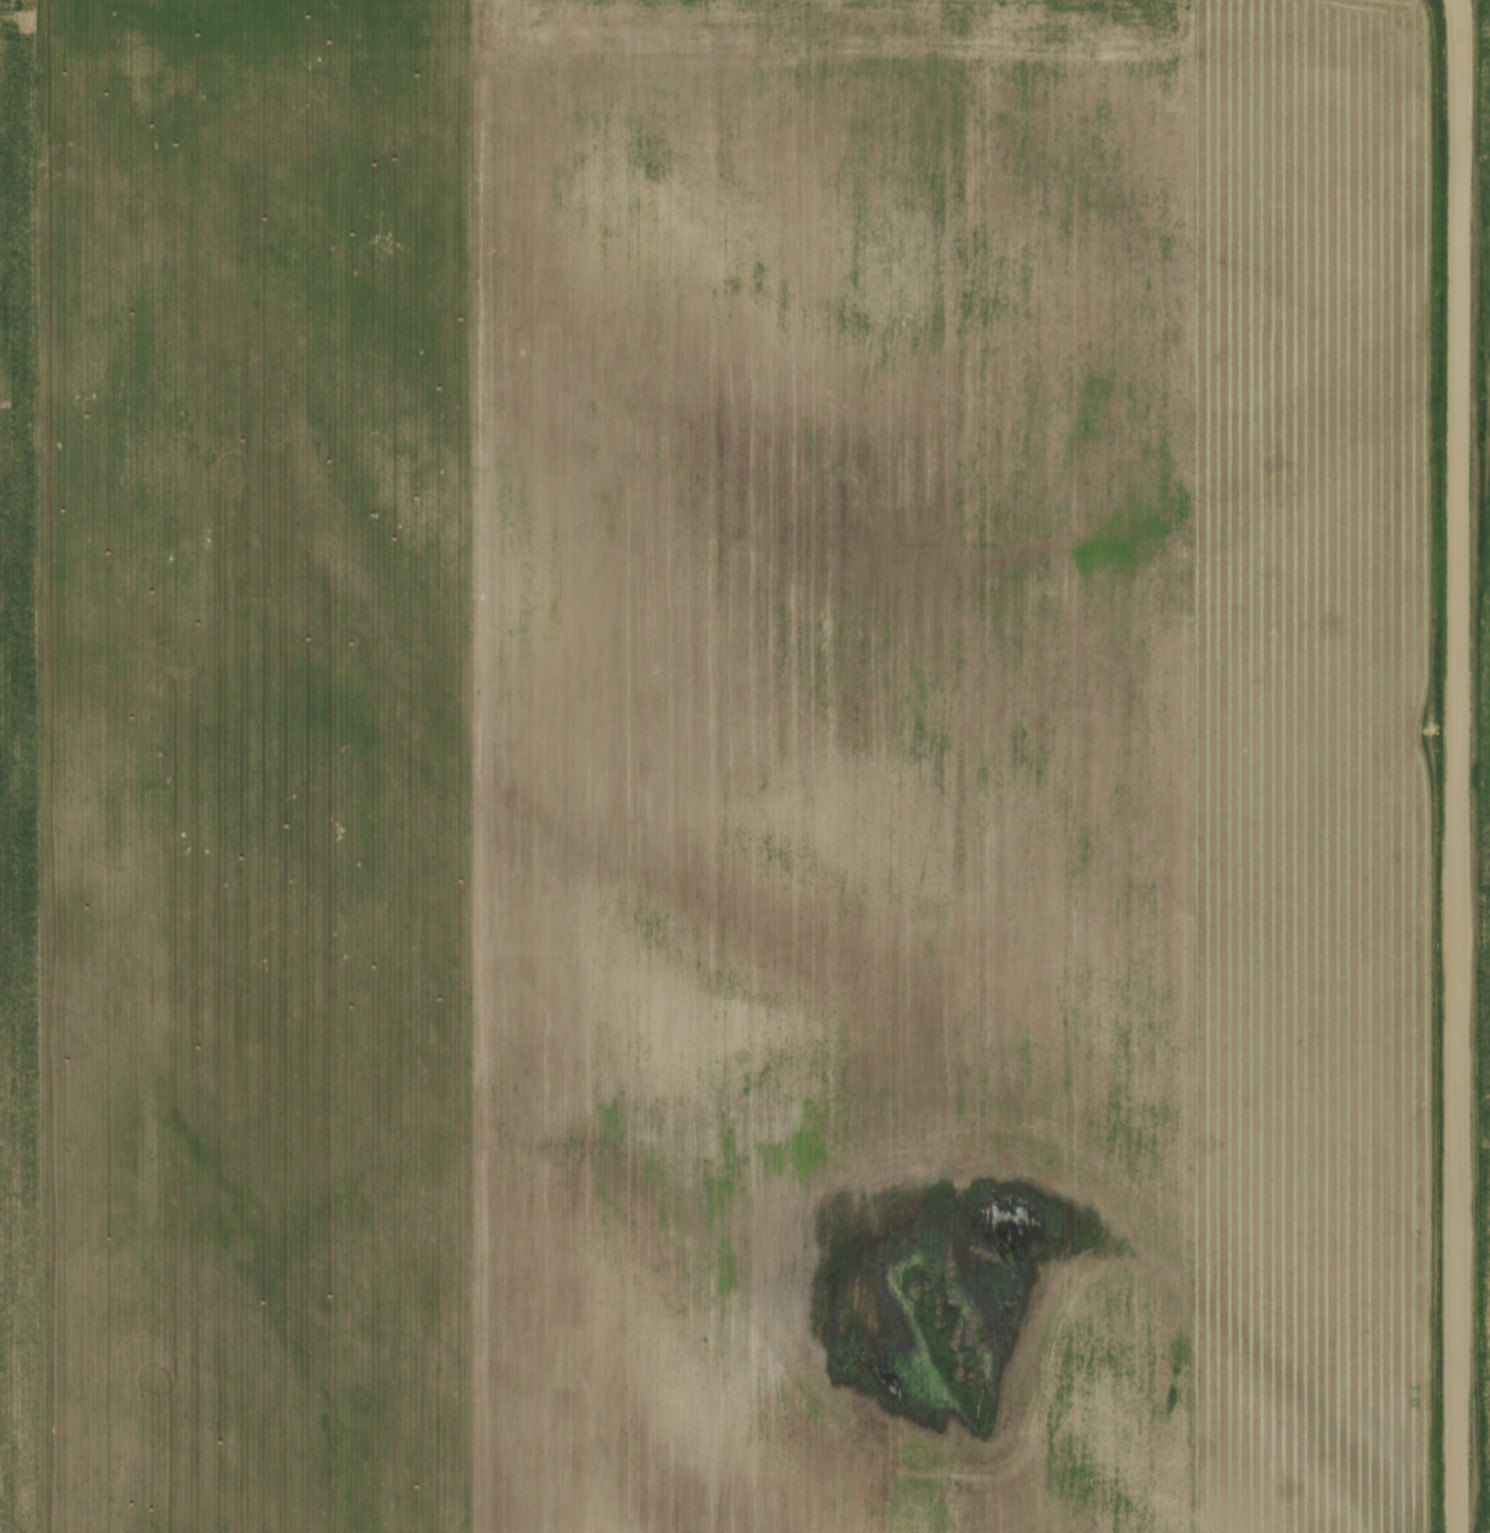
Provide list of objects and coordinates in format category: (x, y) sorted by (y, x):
road: (1455, 766)

